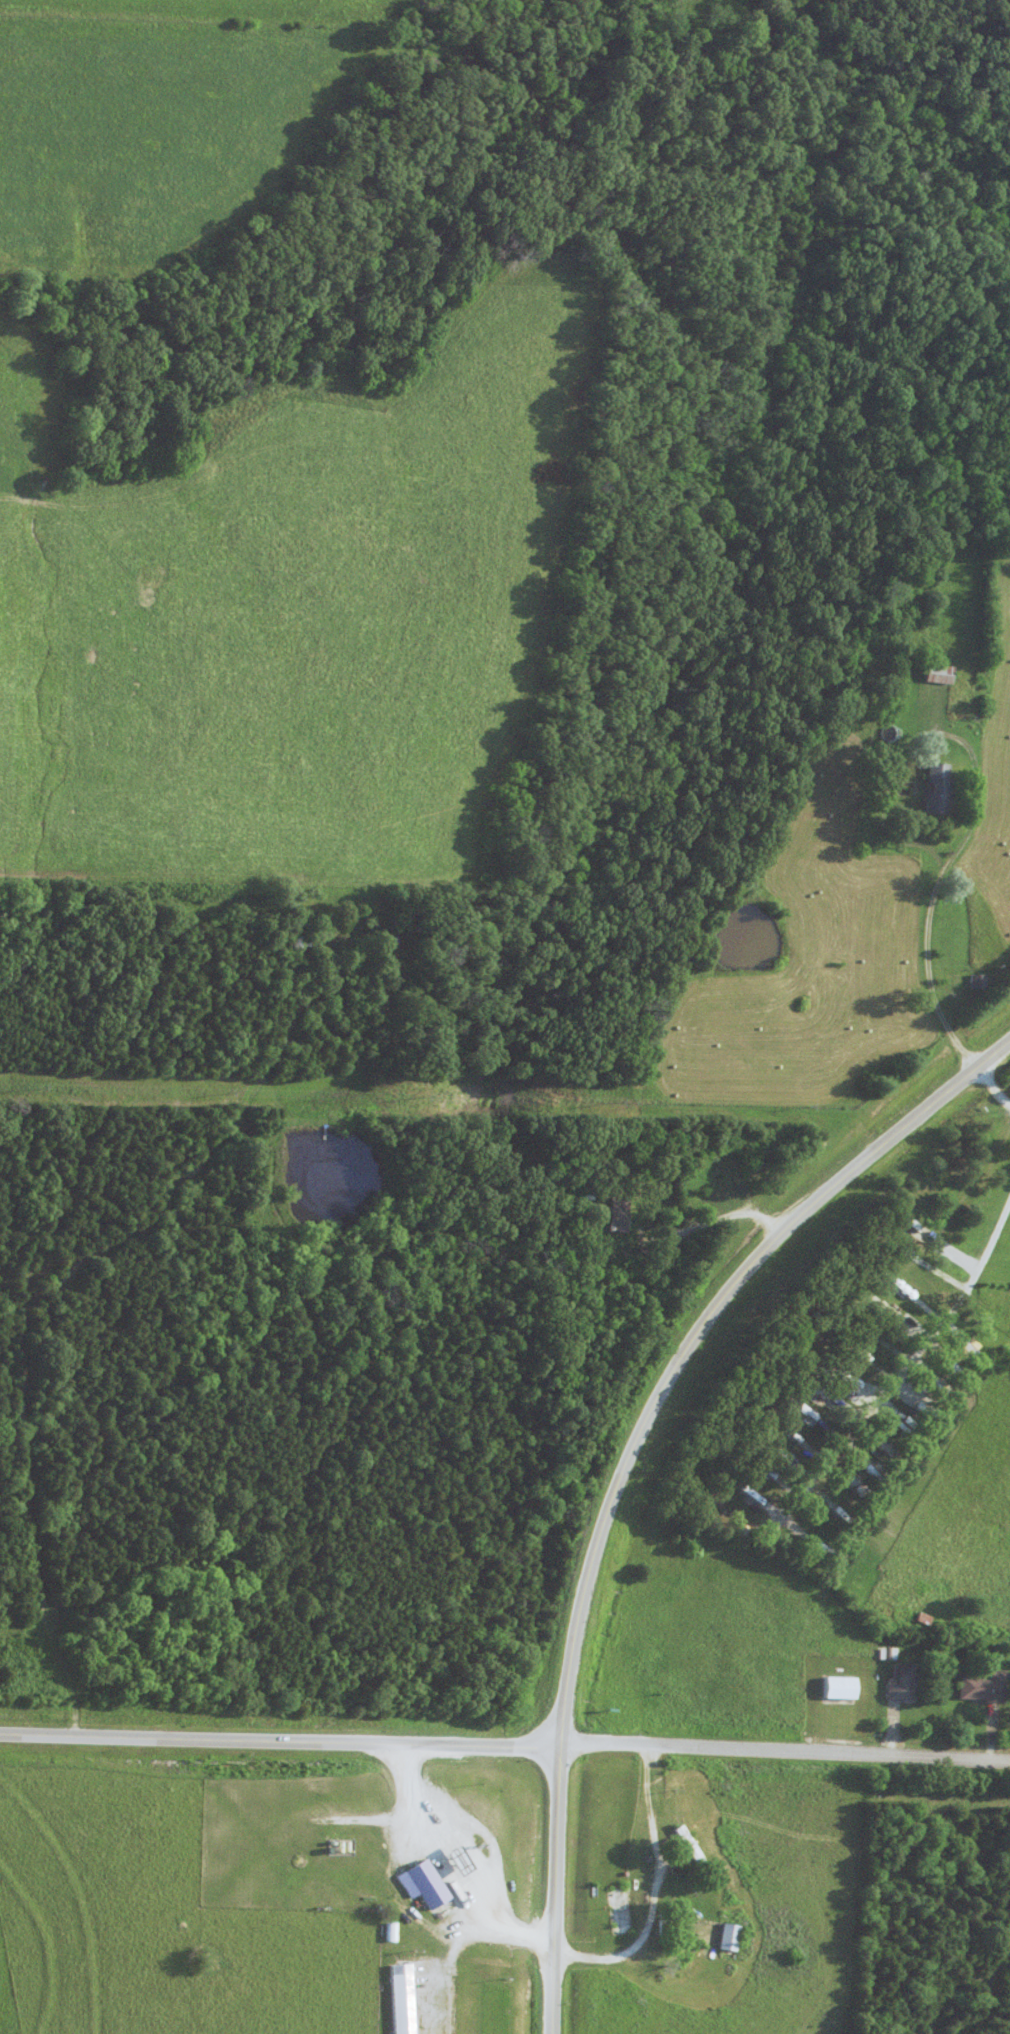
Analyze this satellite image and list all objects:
building: (940, 672)
building: (935, 789)
building: (396, 935)
building: (301, 941)
road: (930, 942)
building: (977, 980)
building: (617, 1216)
road: (725, 1217)
road: (855, 1306)
road: (959, 1324)
road: (694, 1339)
building: (901, 1683)
building: (981, 1686)
building: (837, 1687)
road: (278, 1741)
road: (783, 1751)
building: (689, 1845)
building: (420, 1883)
road: (557, 1889)
building: (618, 1910)
building: (728, 1937)
road: (569, 1946)
building: (398, 1998)

